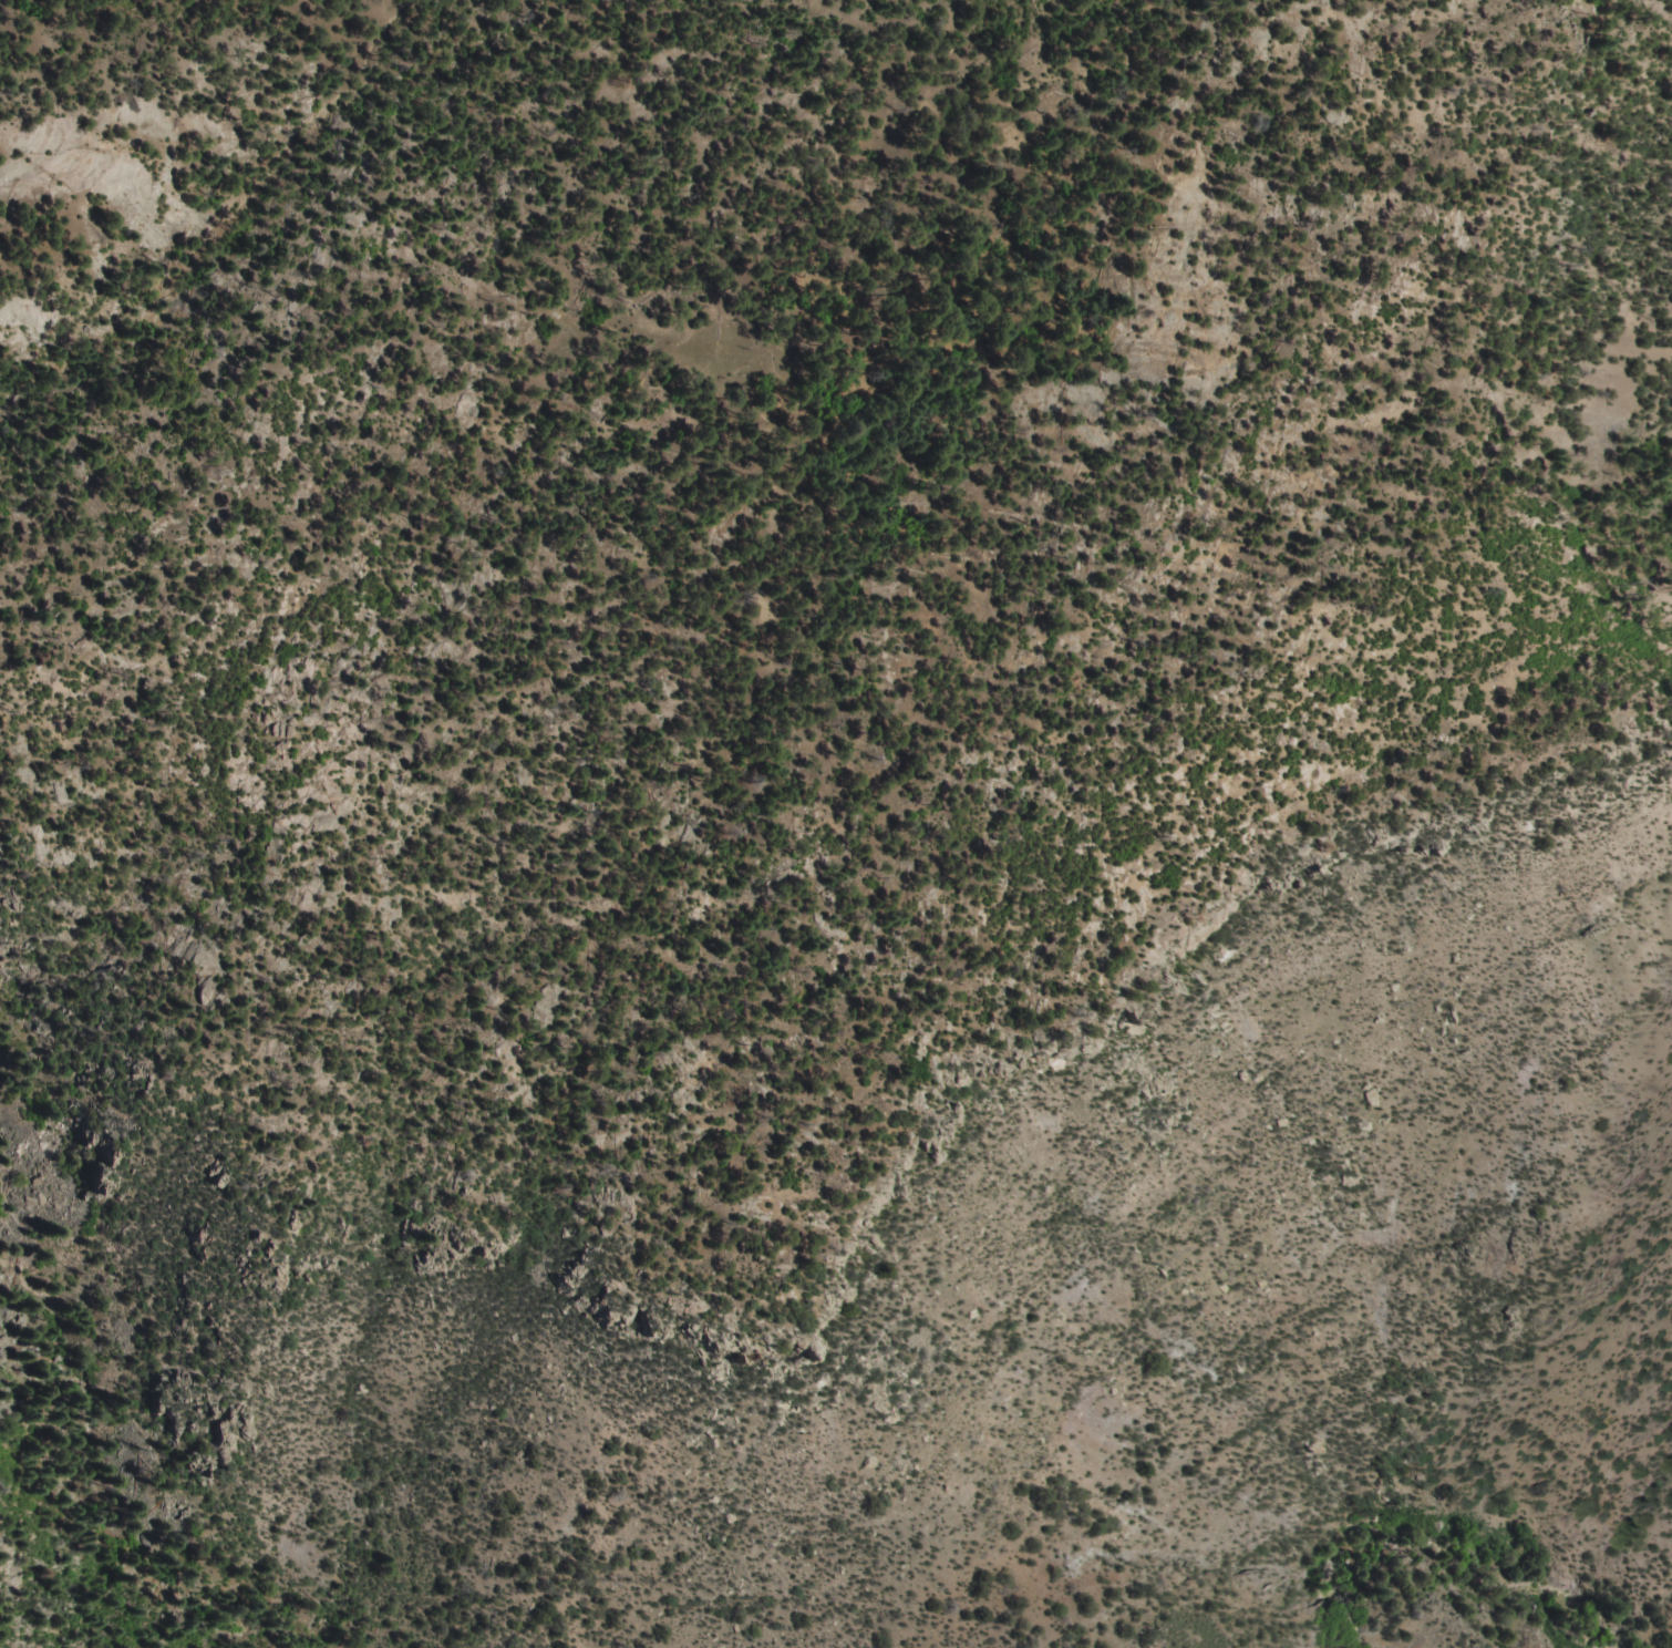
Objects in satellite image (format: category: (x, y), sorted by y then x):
road: (158, 1453)

